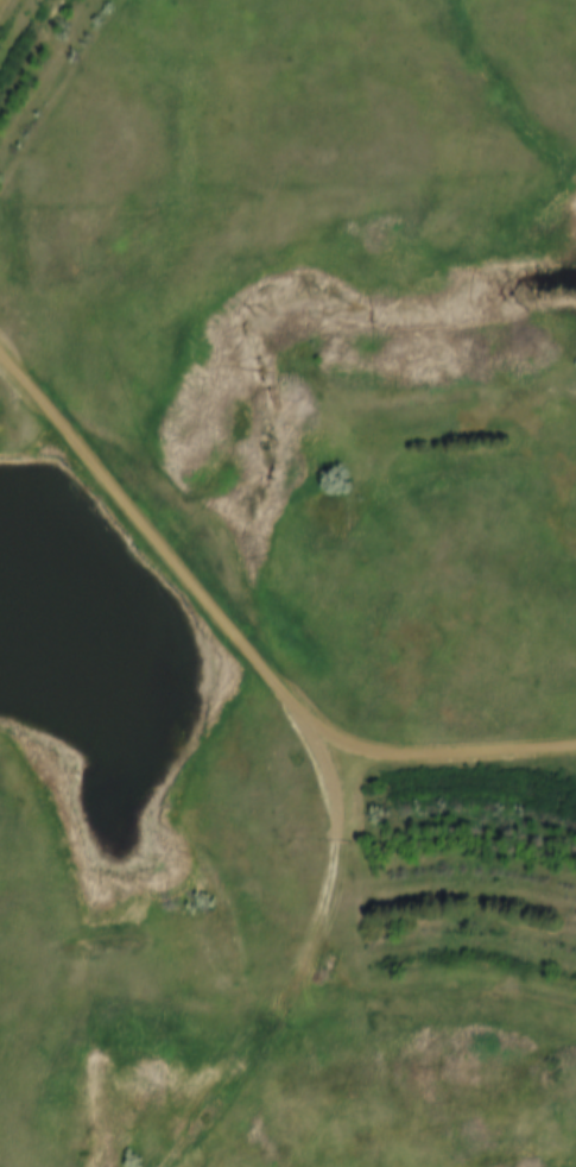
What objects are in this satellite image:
road: (242, 645)
road: (575, 743)
road: (336, 961)
road: (249, 1045)

